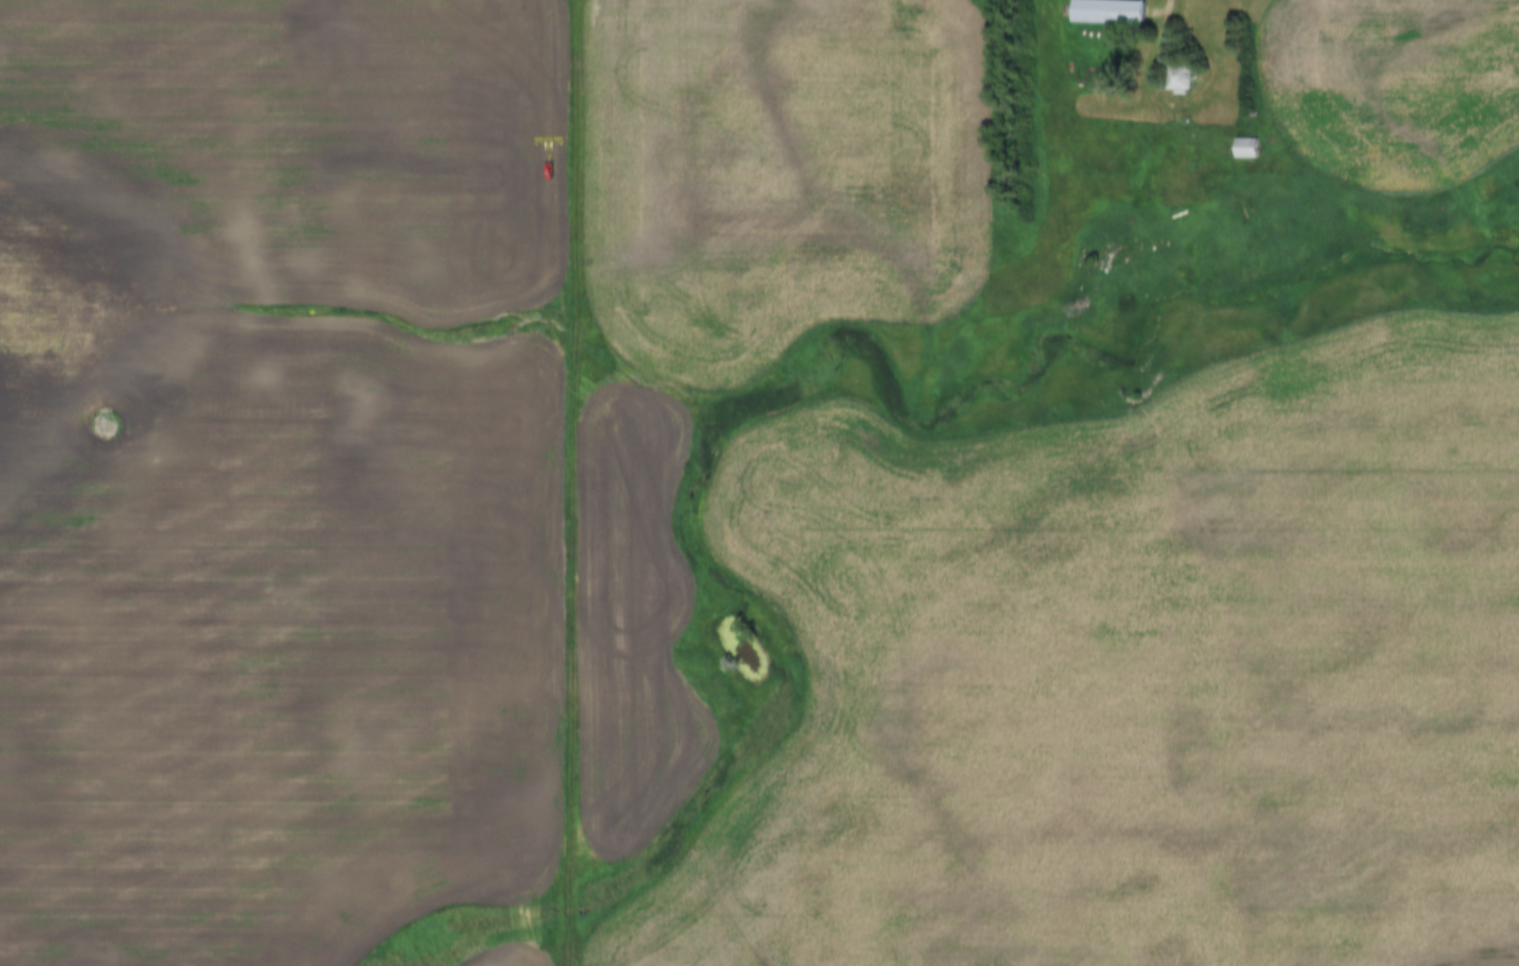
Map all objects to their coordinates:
building: (1112, 12)
building: (1183, 80)
road: (1184, 104)
building: (1250, 148)

